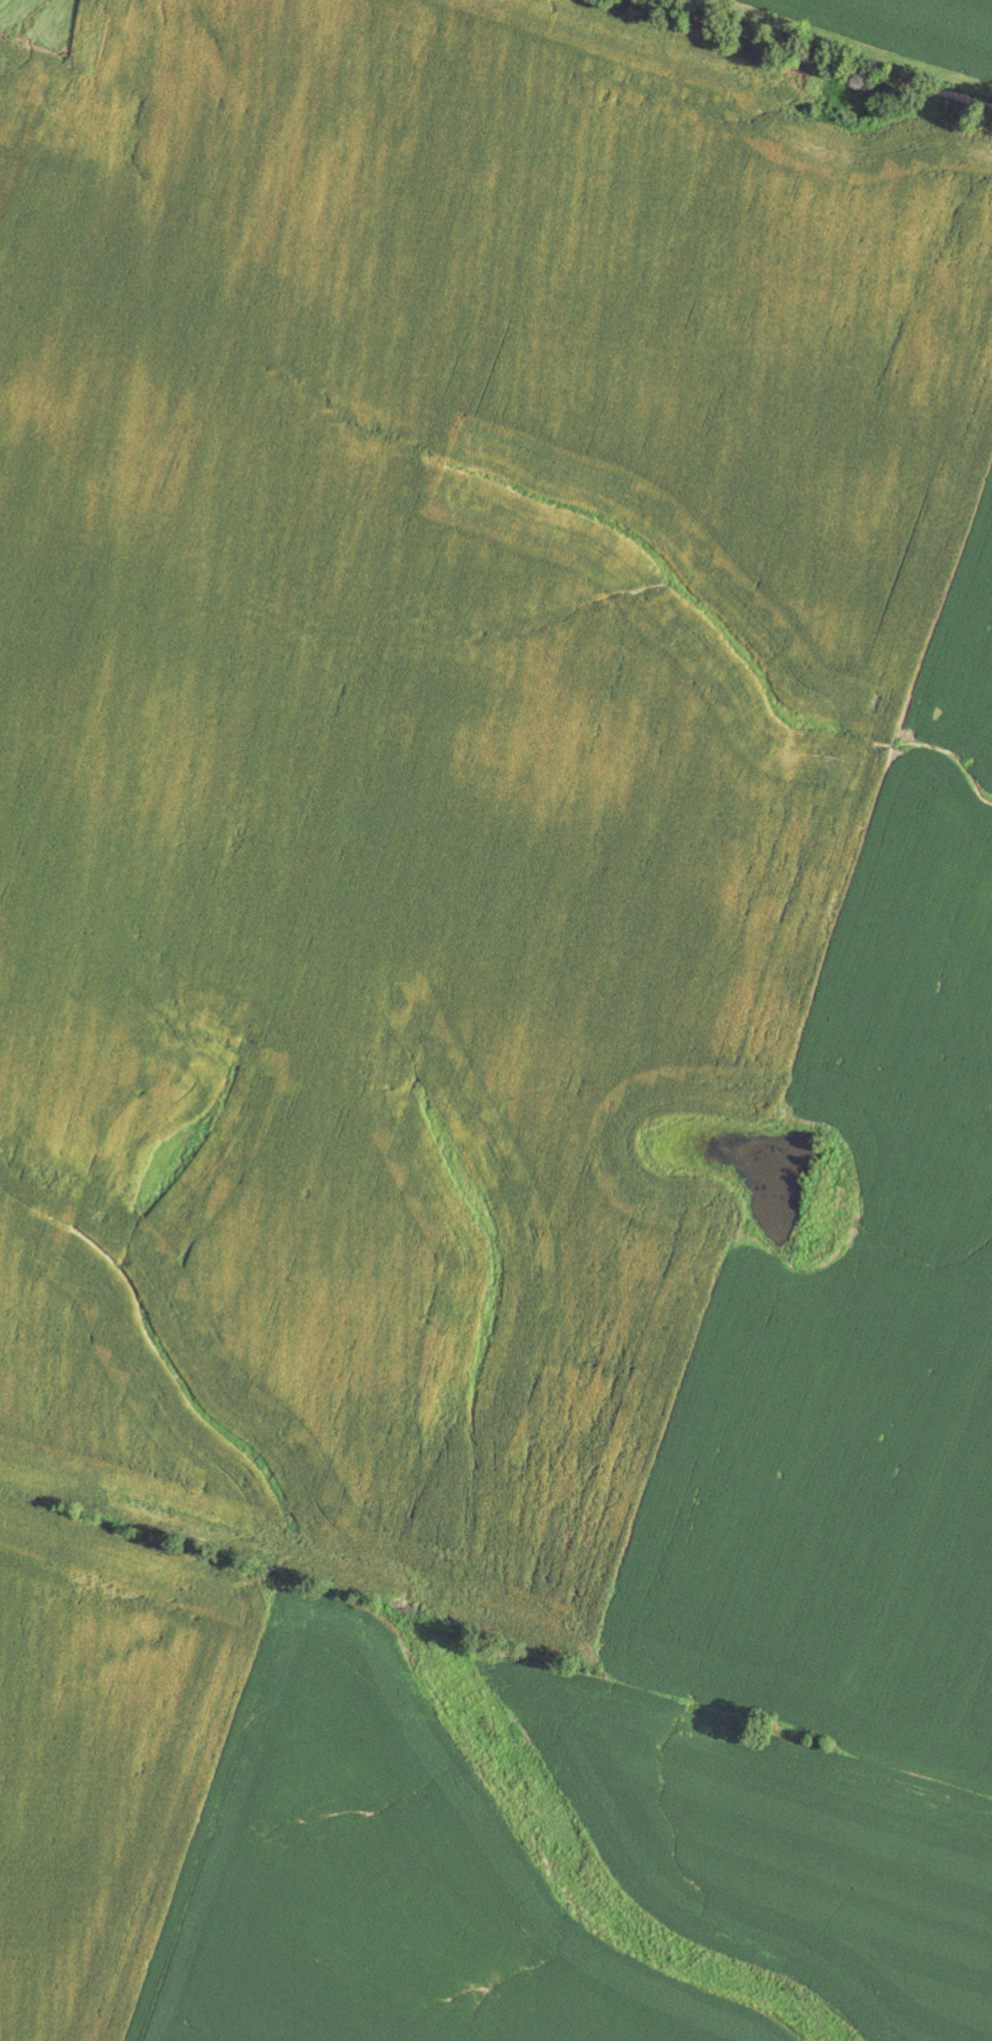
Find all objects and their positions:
road: (815, 51)

